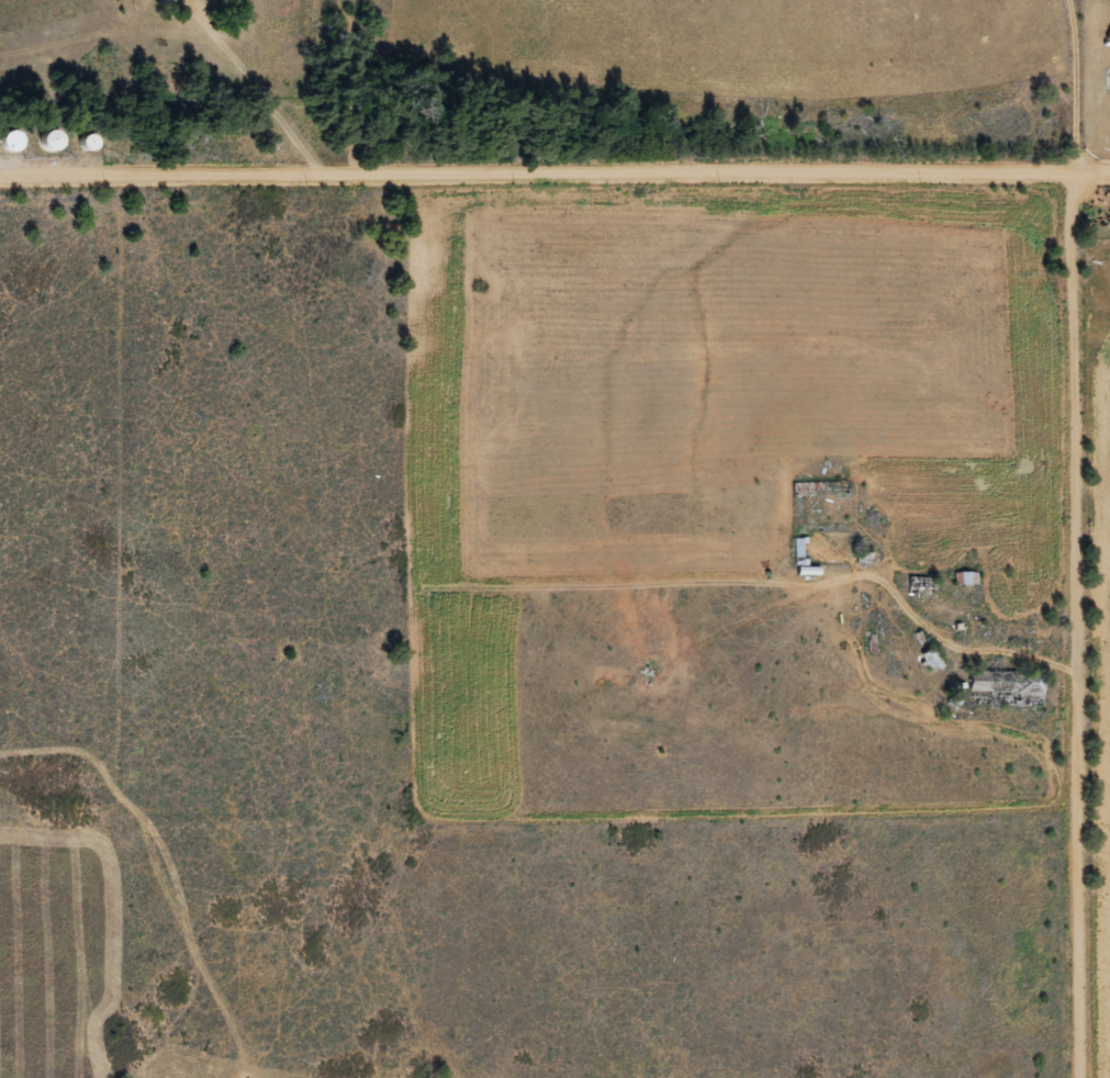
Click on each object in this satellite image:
building: (167, 2)
building: (43, 142)
building: (8, 143)
road: (1088, 166)
road: (534, 170)
building: (803, 560)
road: (1080, 621)
building: (930, 662)

